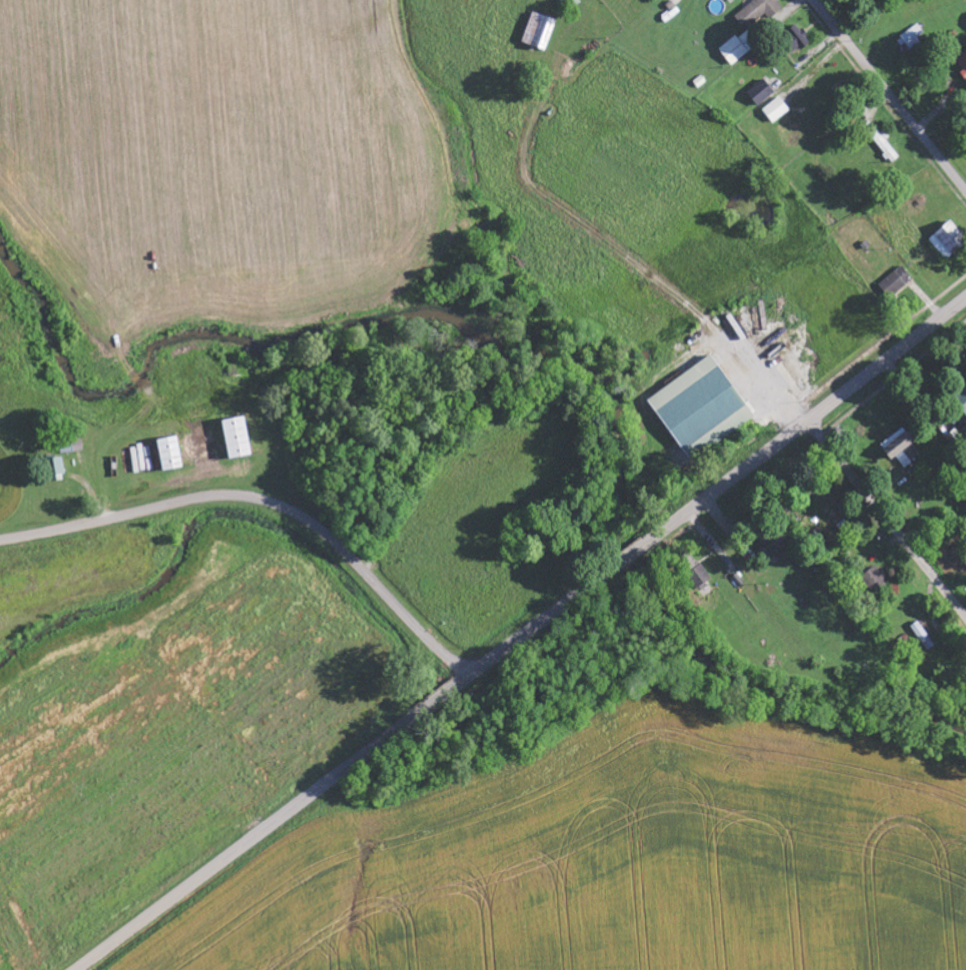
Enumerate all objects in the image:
building: (656, 0)
building: (760, 12)
building: (538, 32)
building: (913, 38)
building: (962, 64)
building: (761, 93)
road: (890, 94)
building: (776, 111)
building: (884, 146)
building: (948, 240)
building: (896, 282)
building: (963, 393)
building: (700, 409)
building: (961, 416)
building: (235, 439)
building: (71, 444)
building: (901, 449)
building: (169, 455)
building: (56, 470)
road: (720, 488)
road: (265, 502)
road: (887, 517)
building: (773, 545)
road: (717, 552)
building: (695, 573)
building: (877, 583)
building: (923, 637)
road: (274, 822)

